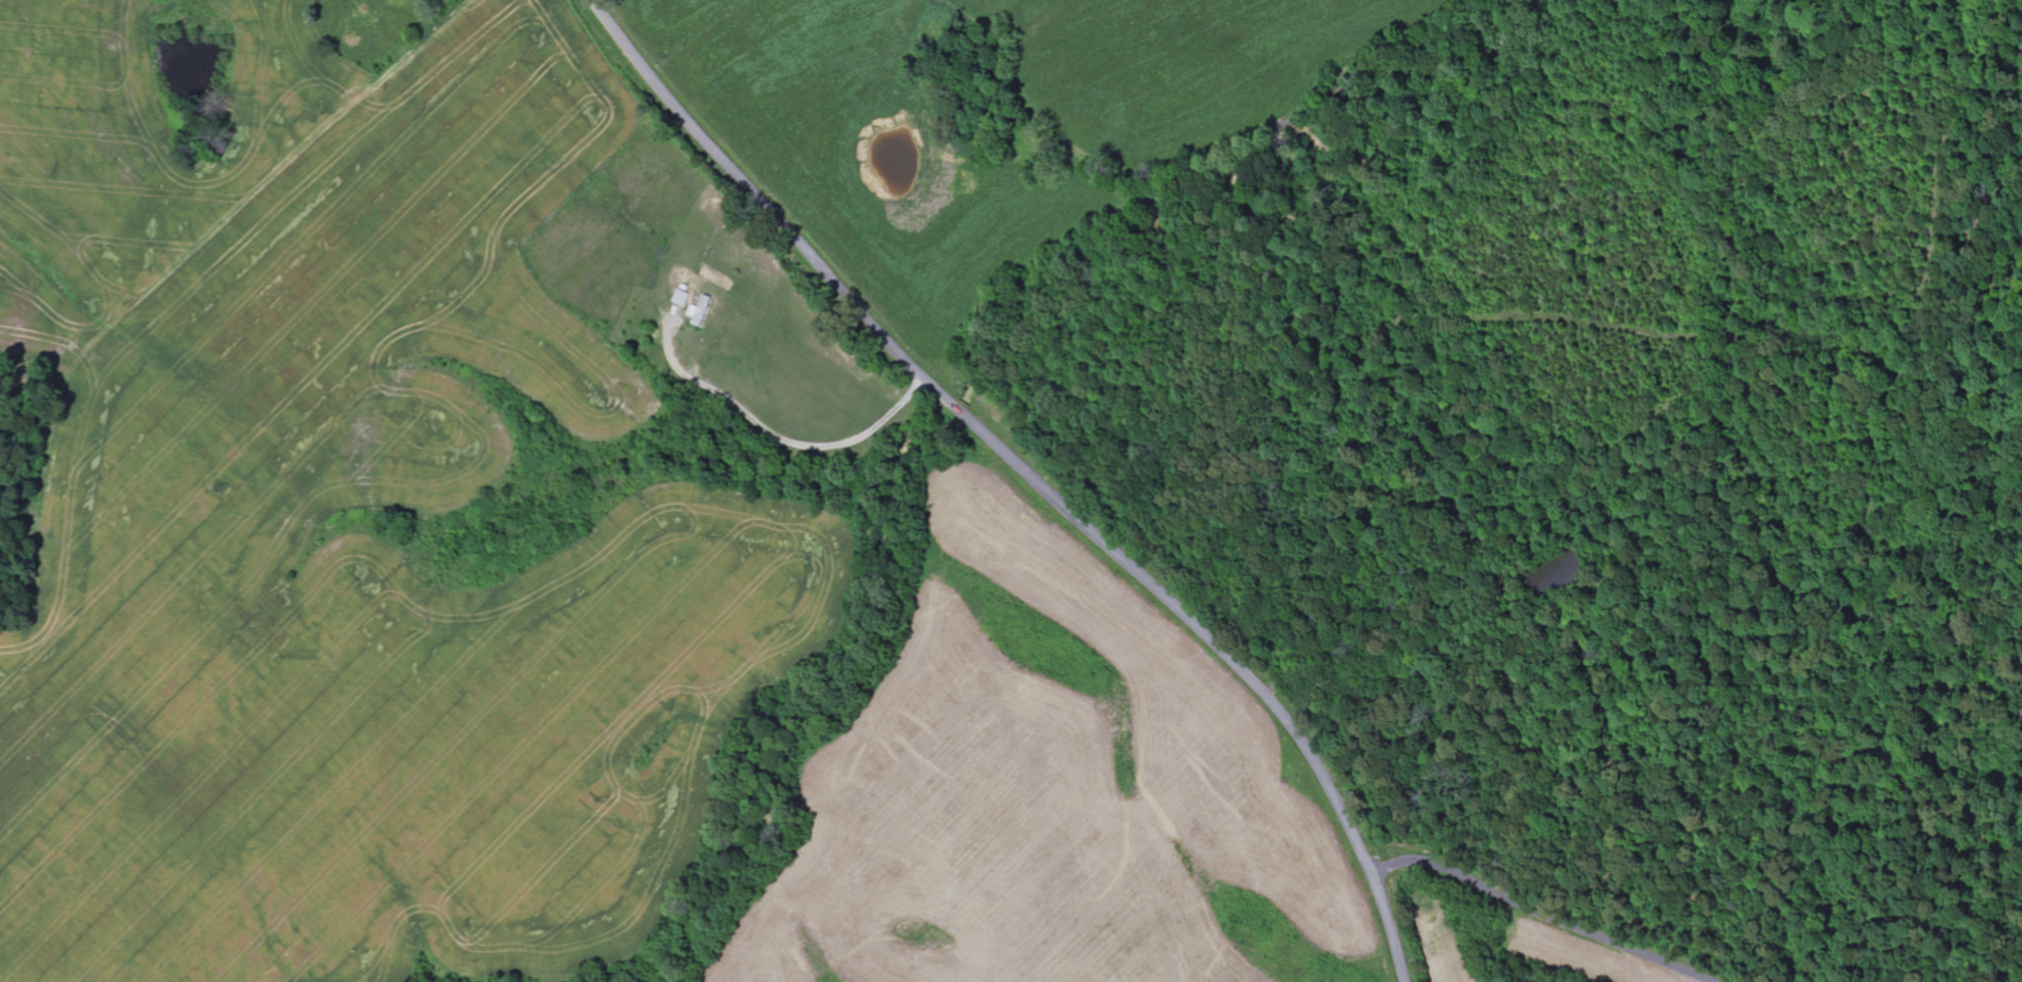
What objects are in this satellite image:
building: (683, 298)
building: (702, 311)
road: (1029, 474)
road: (1542, 914)

